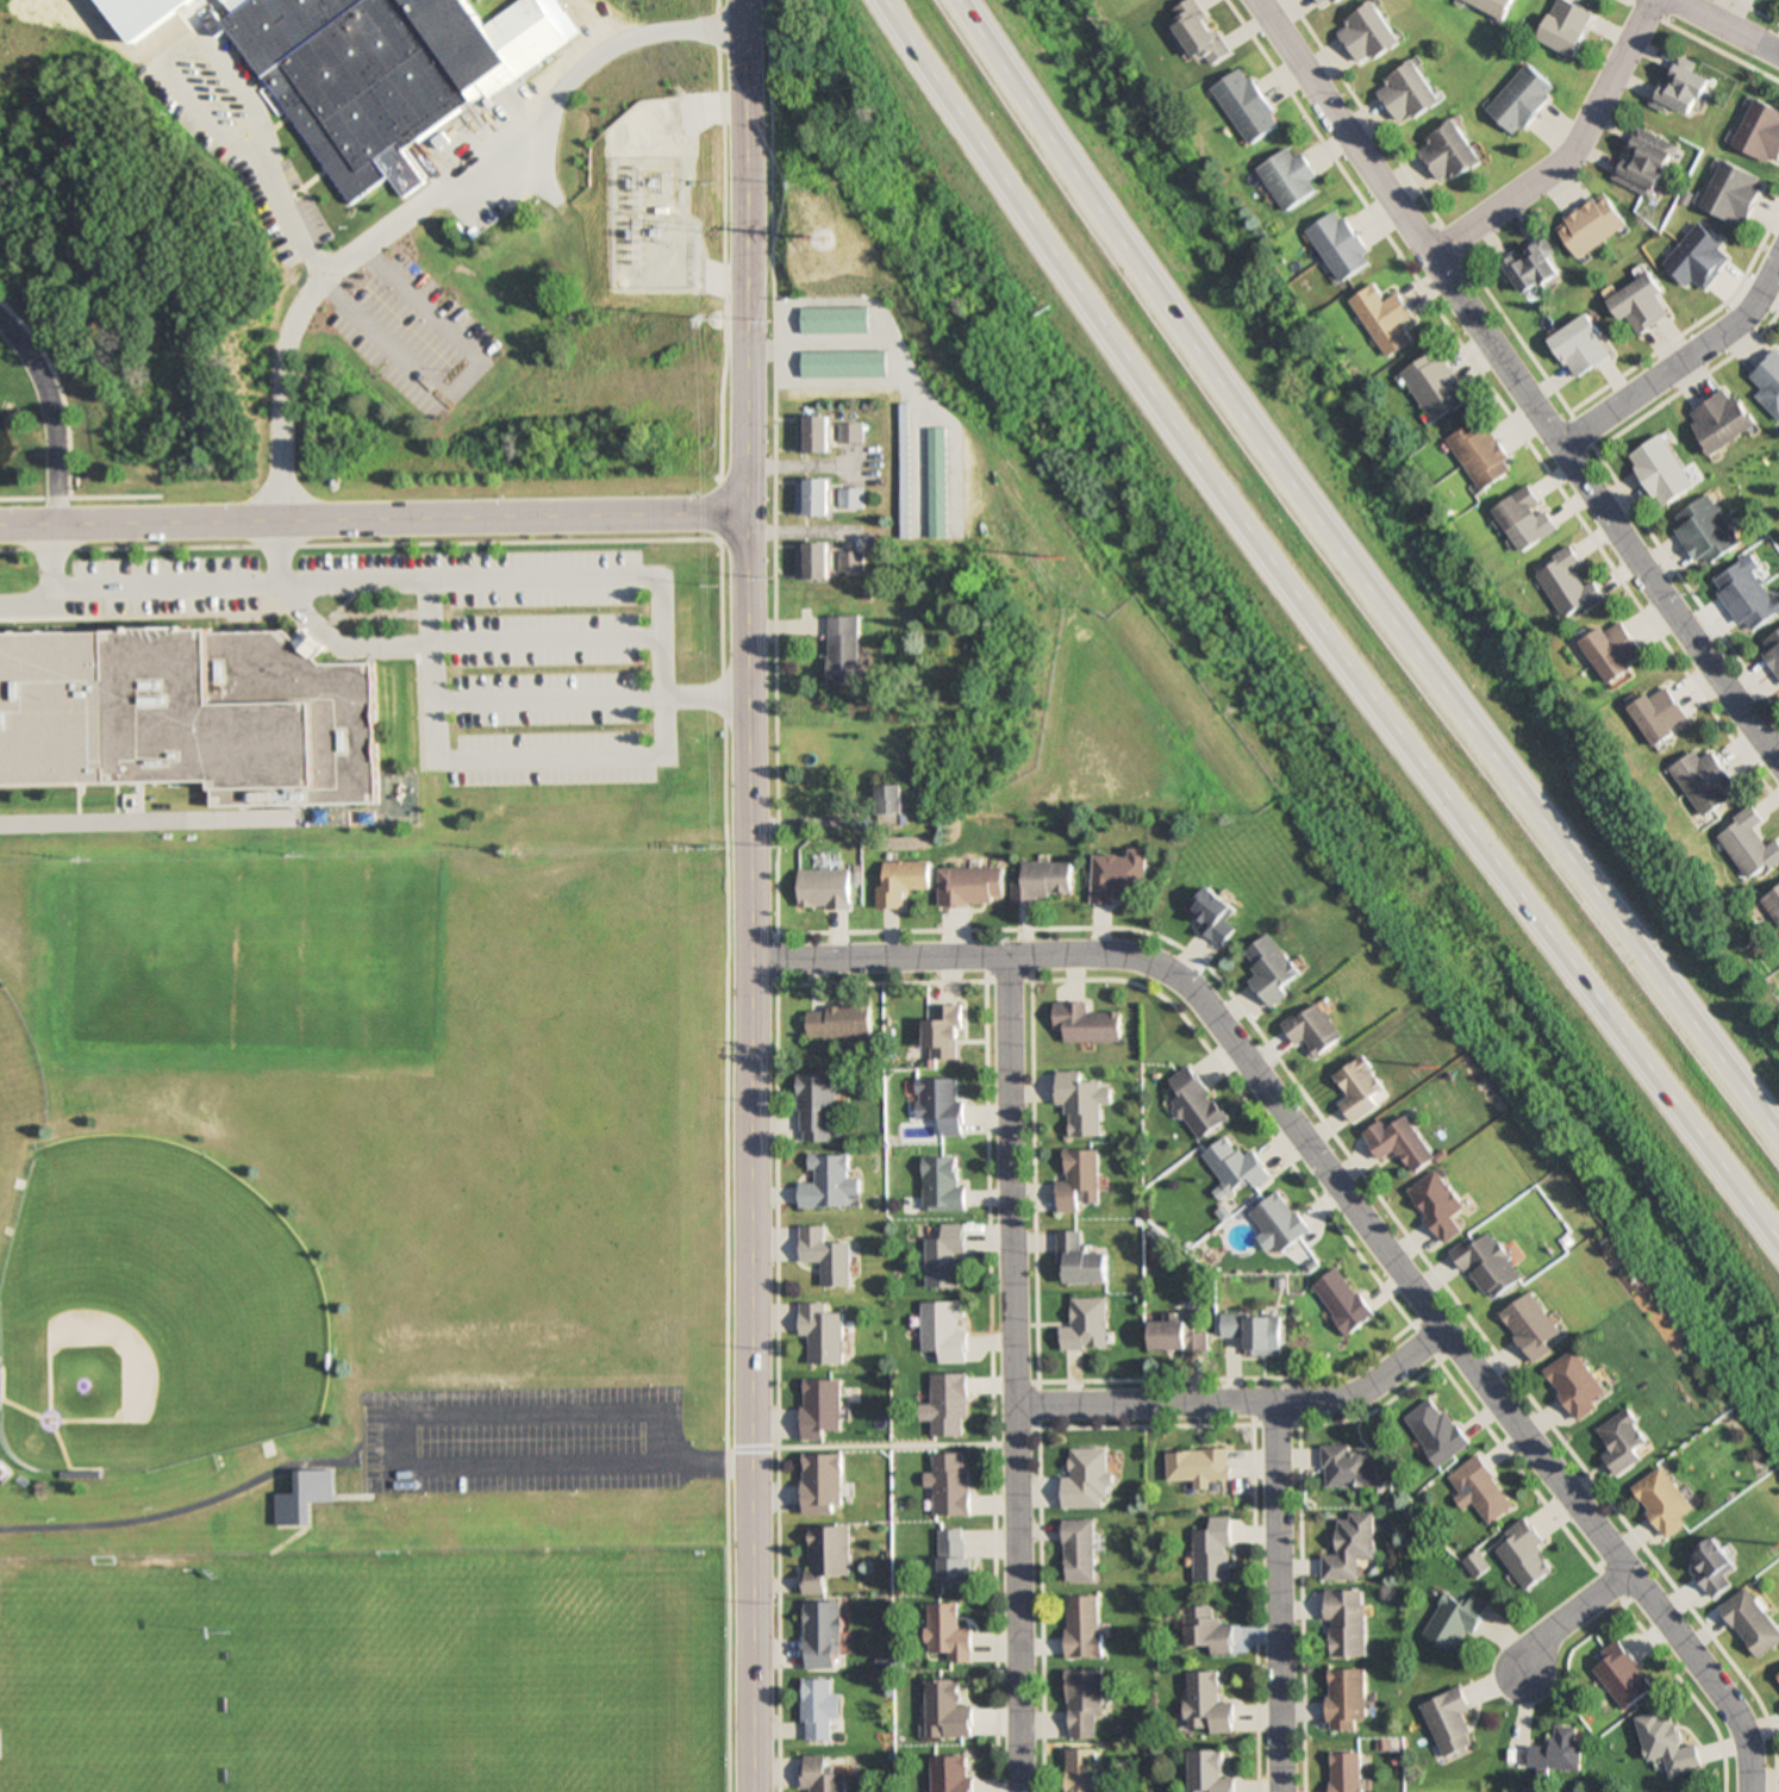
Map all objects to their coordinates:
building: (1322, 4)
building: (1492, 6)
power tower: (1105, 19)
road: (104, 26)
building: (1566, 26)
road: (1723, 29)
road: (157, 31)
building: (1197, 32)
building: (1366, 33)
road: (225, 65)
building: (379, 67)
building: (1681, 87)
road: (185, 93)
building: (1406, 94)
building: (1522, 100)
building: (1244, 106)
building: (1760, 132)
building: (1448, 152)
road: (1569, 157)
building: (1644, 163)
building: (1287, 177)
power tower: (711, 181)
building: (1734, 193)
road: (280, 201)
road: (425, 201)
power substation: (649, 224)
building: (1591, 225)
power tower: (813, 235)
power tower: (703, 236)
building: (1338, 245)
building: (1534, 267)
building: (1641, 305)
road: (441, 313)
power tower: (710, 318)
building: (1382, 319)
building: (830, 320)
road: (380, 332)
building: (1581, 345)
road: (1677, 358)
building: (839, 364)
building: (1768, 382)
road: (1512, 383)
building: (1434, 385)
road: (48, 414)
building: (1721, 419)
building: (847, 432)
building: (809, 436)
building: (1480, 452)
building: (1662, 470)
building: (903, 486)
building: (937, 489)
road: (75, 494)
building: (810, 498)
building: (847, 499)
road: (370, 514)
building: (1524, 518)
building: (1708, 532)
road: (357, 541)
power tower: (1055, 558)
building: (810, 562)
road: (207, 575)
road: (1357, 577)
building: (1568, 583)
road: (30, 592)
building: (1748, 595)
road: (539, 625)
road: (1317, 631)
parking lot: (447, 632)
building: (1613, 650)
building: (1772, 650)
building: (841, 651)
road: (541, 691)
road: (700, 691)
building: (50, 706)
building: (236, 710)
building: (1659, 714)
road: (656, 749)
building: (1703, 781)
building: (888, 804)
road: (96, 811)
building: (1748, 843)
building: (1119, 874)
building: (1045, 880)
building: (900, 881)
building: (972, 885)
building: (823, 887)
road: (747, 895)
building: (1772, 903)
building: (1215, 913)
road: (683, 928)
building: (1272, 969)
building: (838, 1020)
building: (1087, 1024)
building: (1313, 1029)
building: (944, 1031)
power tower: (1430, 1066)
park: (15, 1076)
building: (1361, 1088)
building: (941, 1103)
building: (1082, 1103)
building: (1197, 1104)
building: (817, 1107)
road: (332, 1116)
building: (1403, 1142)
building: (1237, 1166)
building: (1079, 1180)
building: (829, 1182)
building: (942, 1185)
road: (1348, 1204)
building: (1442, 1204)
building: (1281, 1222)
building: (826, 1255)
building: (944, 1256)
building: (1079, 1260)
building: (1492, 1265)
park: (170, 1294)
building: (1346, 1299)
park: (363, 1320)
building: (1086, 1324)
building: (1535, 1325)
building: (944, 1330)
building: (1255, 1331)
building: (823, 1332)
building: (1181, 1337)
road: (1013, 1373)
building: (1578, 1382)
road: (1240, 1404)
building: (948, 1405)
building: (820, 1407)
building: (1440, 1431)
parking lot: (520, 1438)
building: (1625, 1441)
road: (881, 1448)
building: (1199, 1466)
building: (1348, 1467)
building: (2, 1472)
building: (1087, 1480)
building: (823, 1482)
building: (950, 1484)
building: (1487, 1490)
building: (304, 1497)
building: (1666, 1500)
road: (183, 1510)
building: (1353, 1547)
building: (1079, 1550)
building: (1215, 1551)
building: (828, 1555)
building: (1529, 1555)
building: (955, 1557)
road: (354, 1560)
building: (1715, 1563)
road: (1275, 1598)
road: (1572, 1619)
building: (1457, 1621)
building: (1754, 1621)
building: (1347, 1623)
building: (1082, 1626)
building: (1209, 1630)
building: (948, 1634)
building: (824, 1635)
building: (1624, 1675)
building: (1778, 1677)
park: (595, 1687)
park: (364, 1688)
park: (108, 1692)
building: (1348, 1698)
building: (1084, 1704)
building: (1209, 1704)
building: (817, 1710)
building: (948, 1710)
building: (1452, 1722)
road: (5, 1723)
building: (1668, 1743)
building: (1559, 1752)
building: (1084, 1771)
building: (1210, 1772)
building: (1348, 1772)
building: (953, 1774)
building: (822, 1775)

